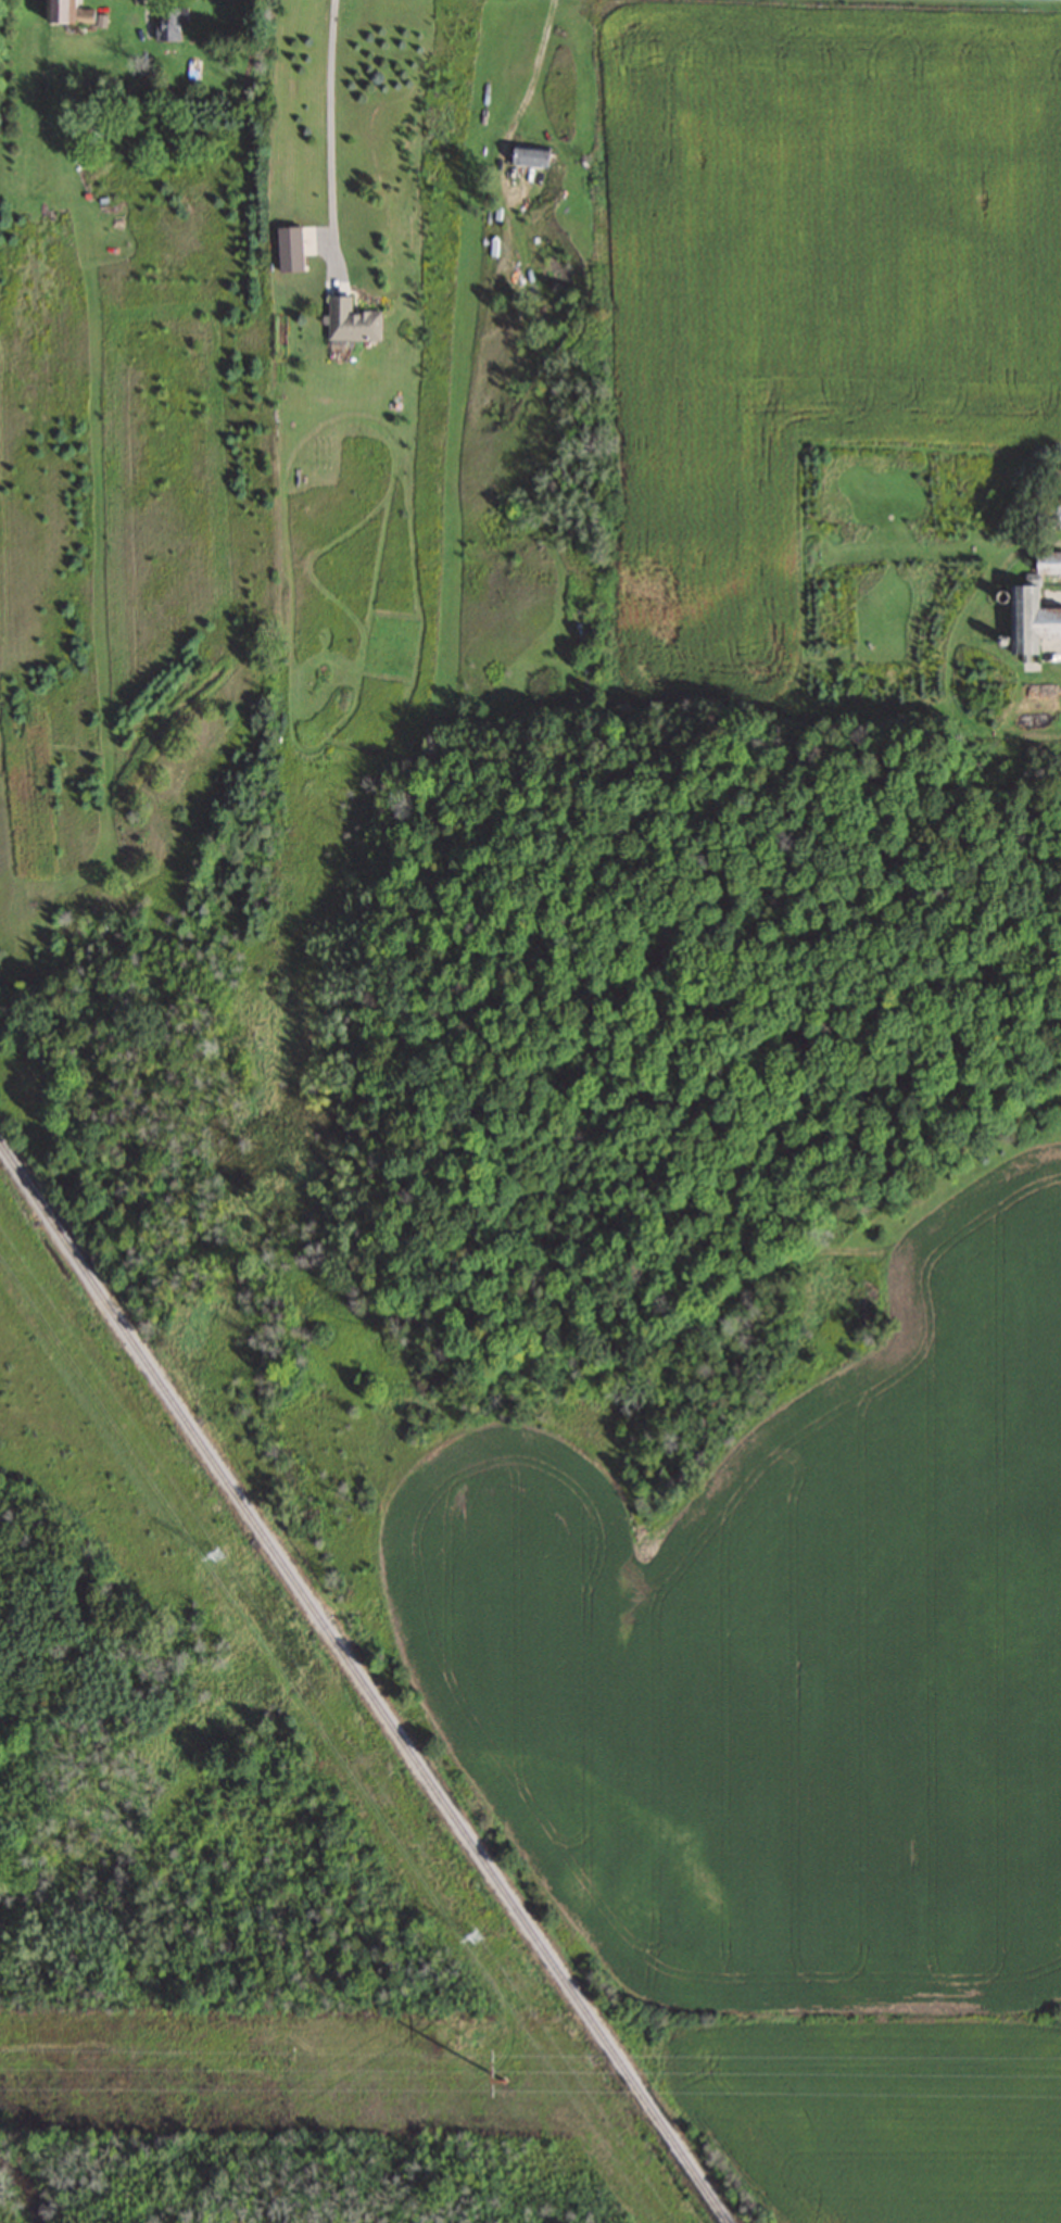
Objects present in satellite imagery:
building: (75, 11)
building: (172, 22)
road: (531, 75)
road: (319, 136)
building: (527, 155)
building: (350, 320)
building: (1048, 516)
building: (1046, 563)
building: (1031, 626)
building: (618, 1215)
railway: (362, 1682)
power tower: (511, 2071)
river: (20, 2193)

